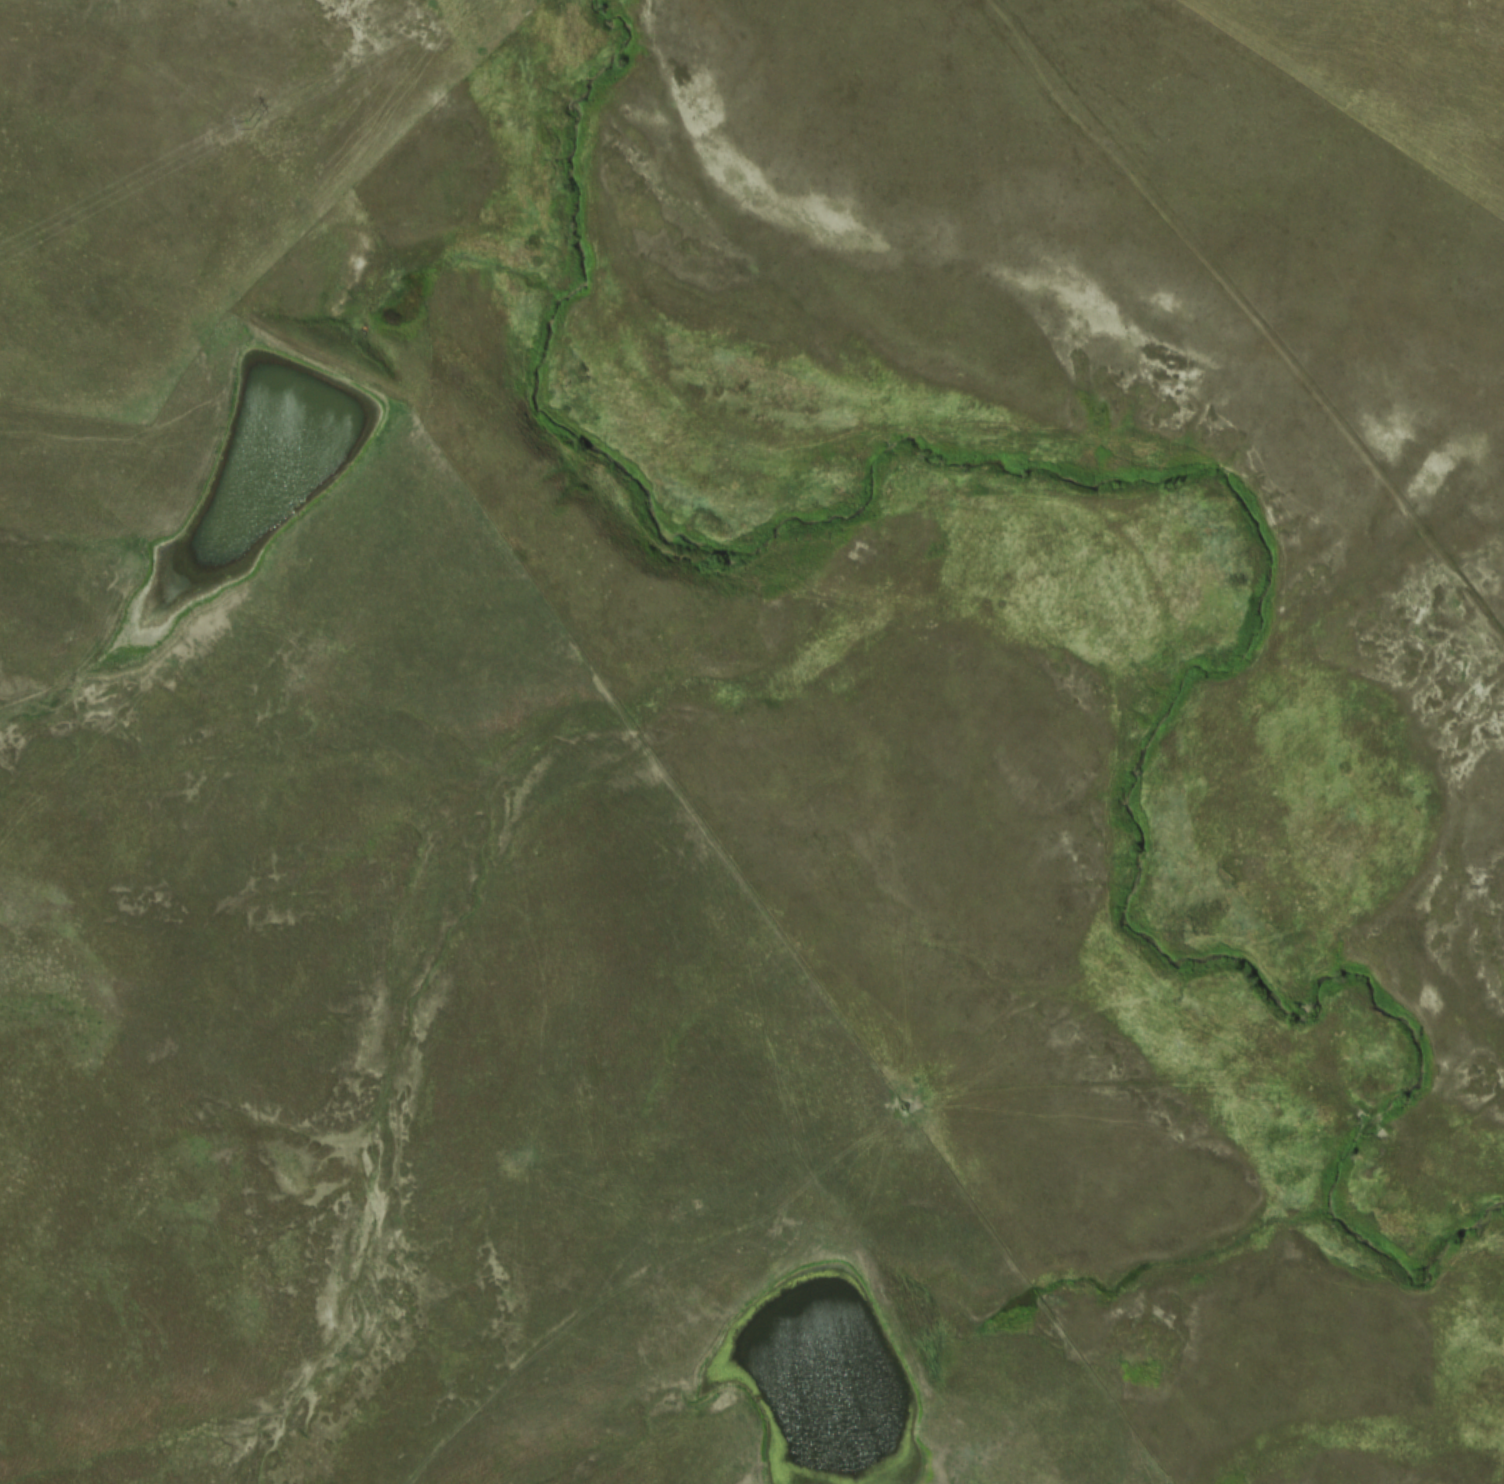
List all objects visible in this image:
power tower: (247, 123)

